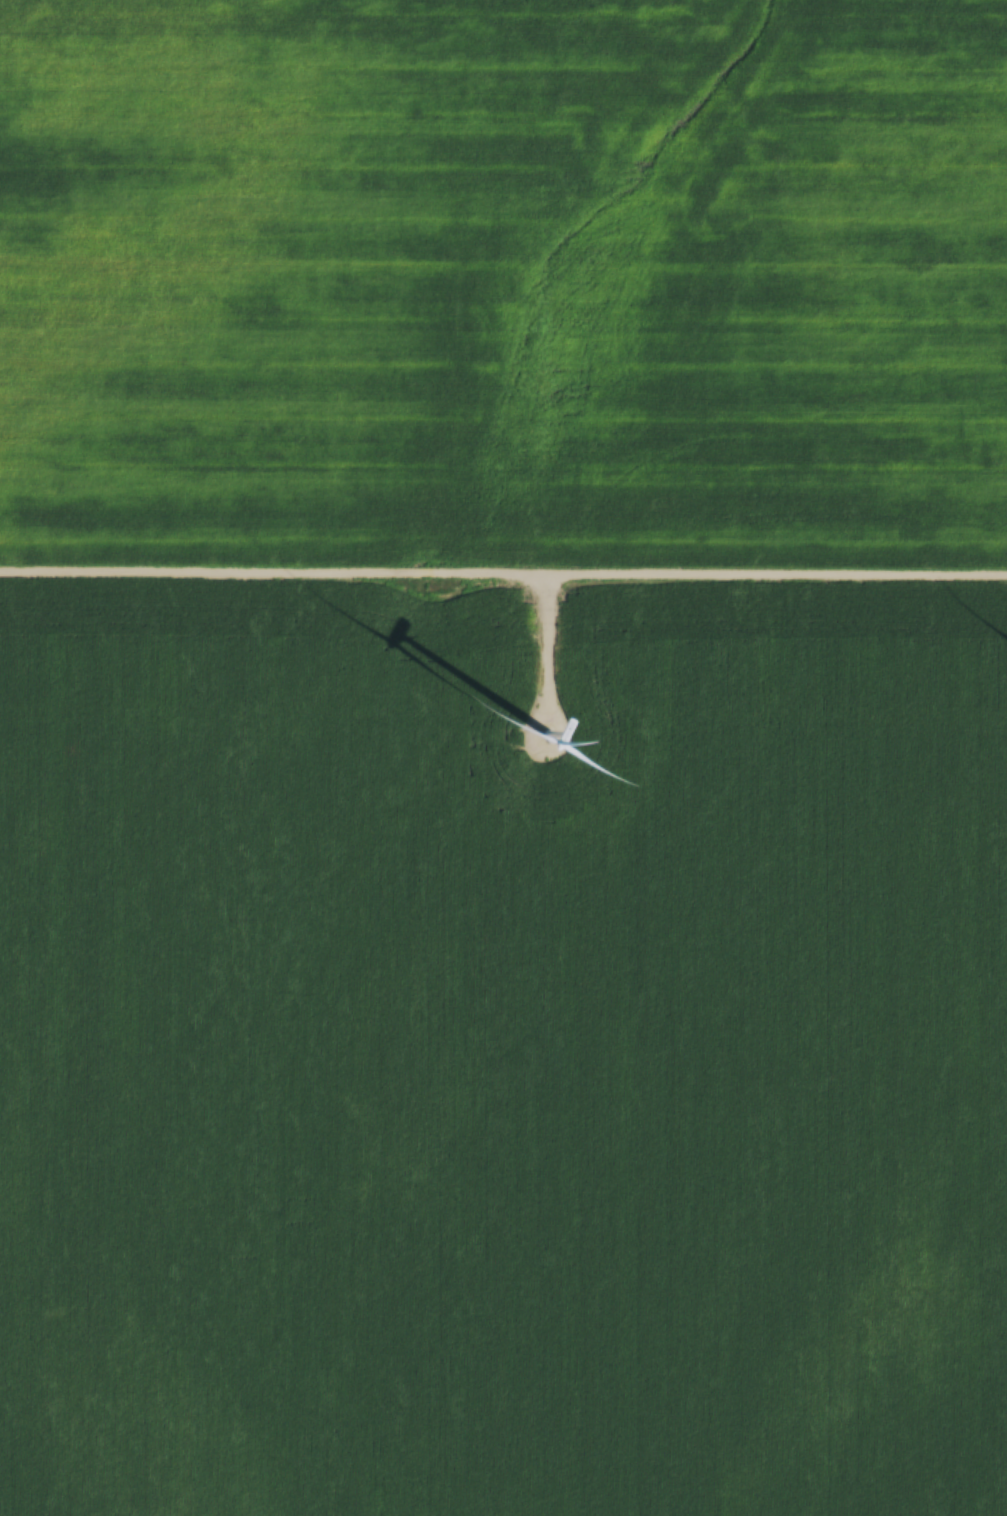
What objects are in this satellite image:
road: (503, 573)
wind turbine: (552, 736)

